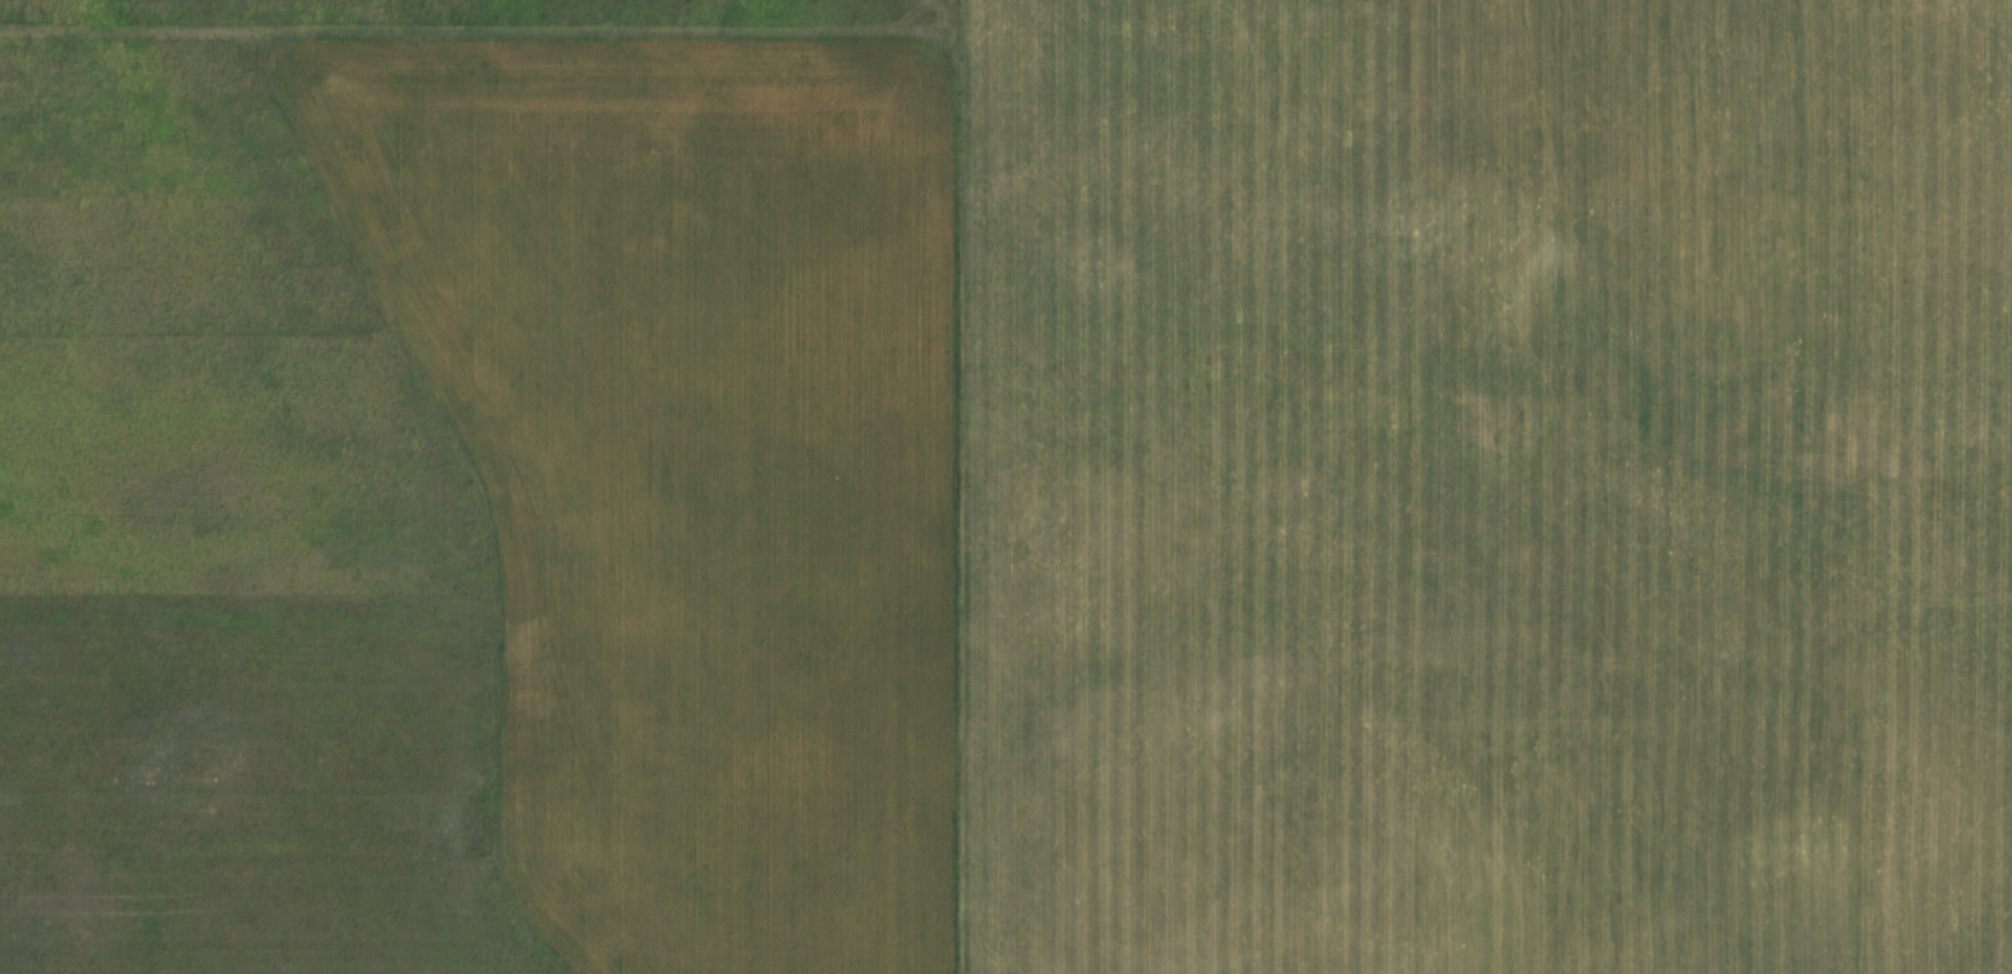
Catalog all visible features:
road: (475, 32)
road: (1446, 516)

